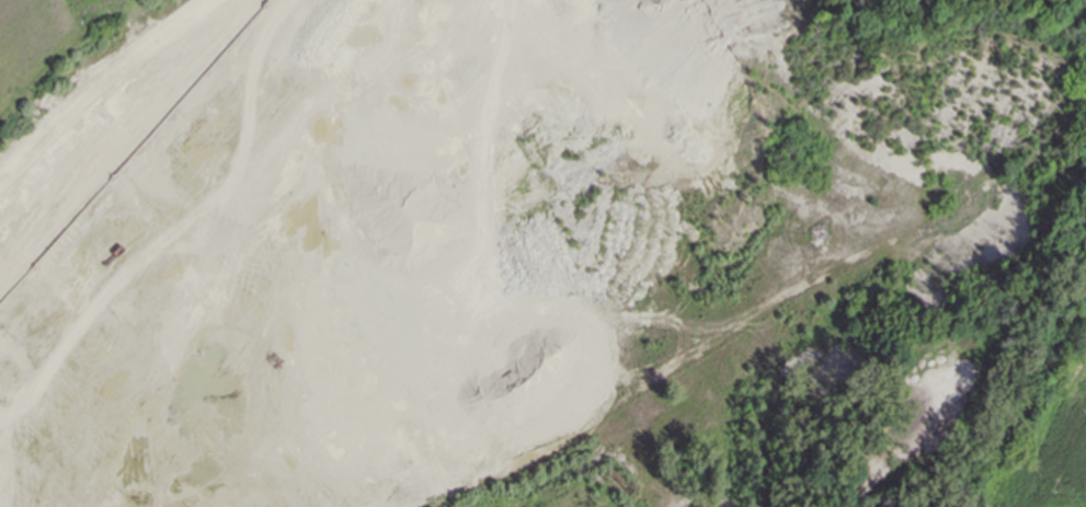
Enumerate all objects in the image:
quarry: (536, 251)

